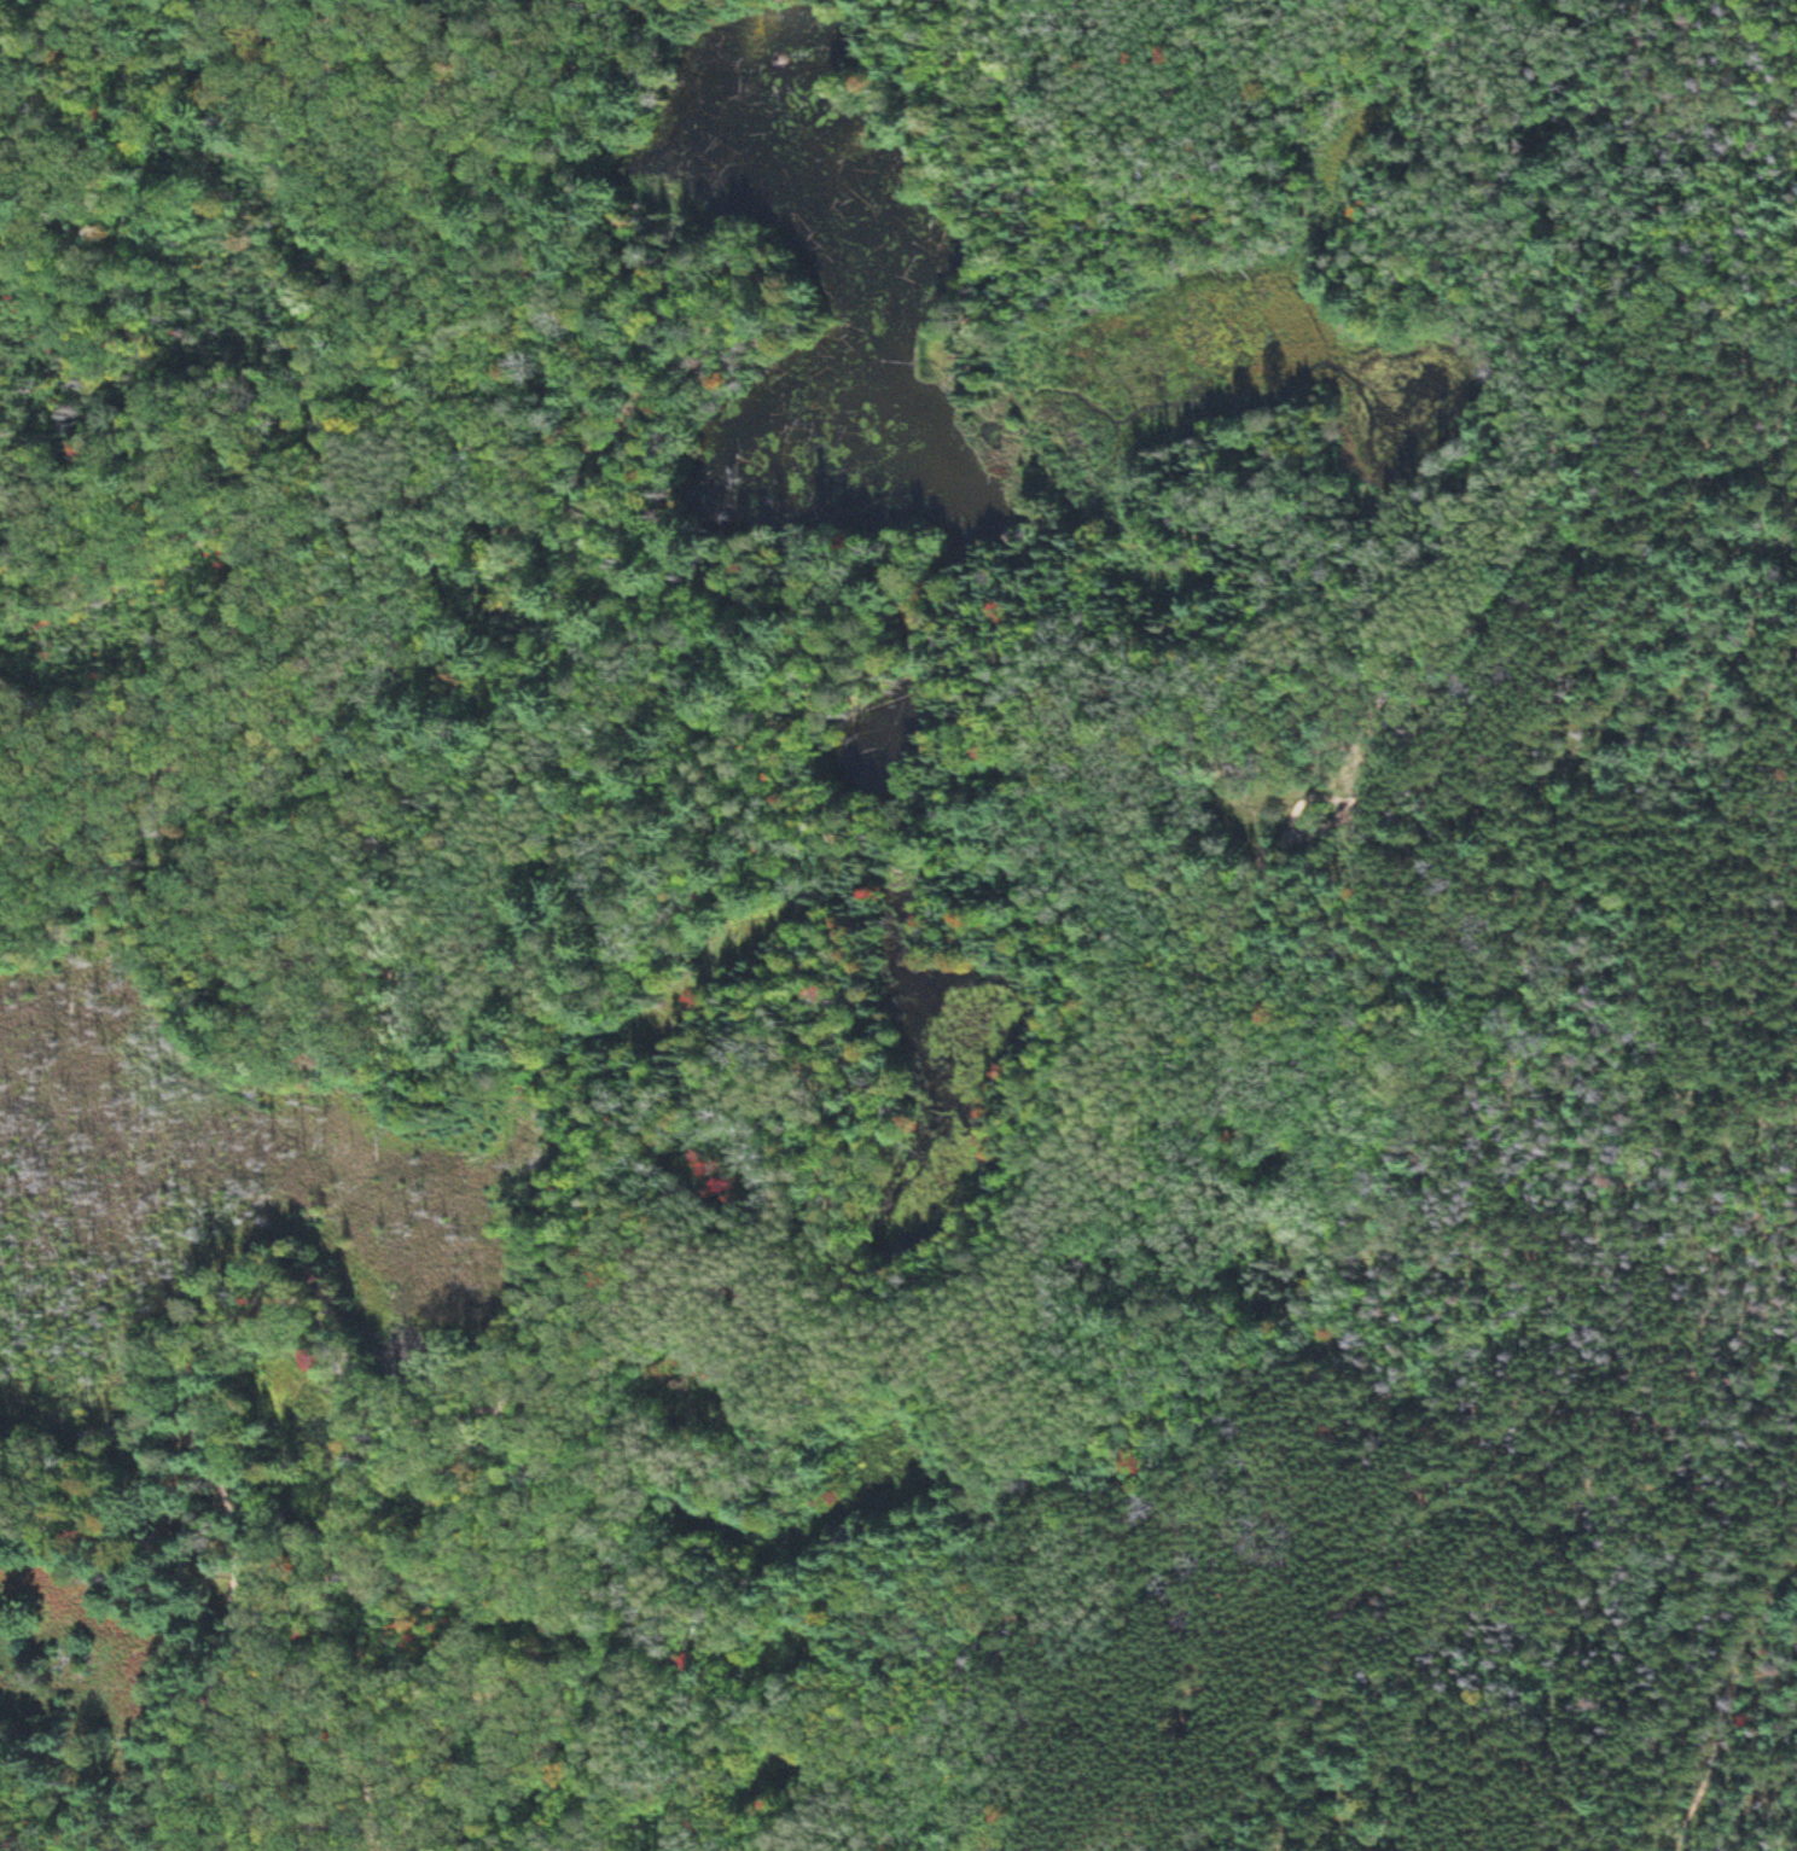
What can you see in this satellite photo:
road: (1760, 1742)

